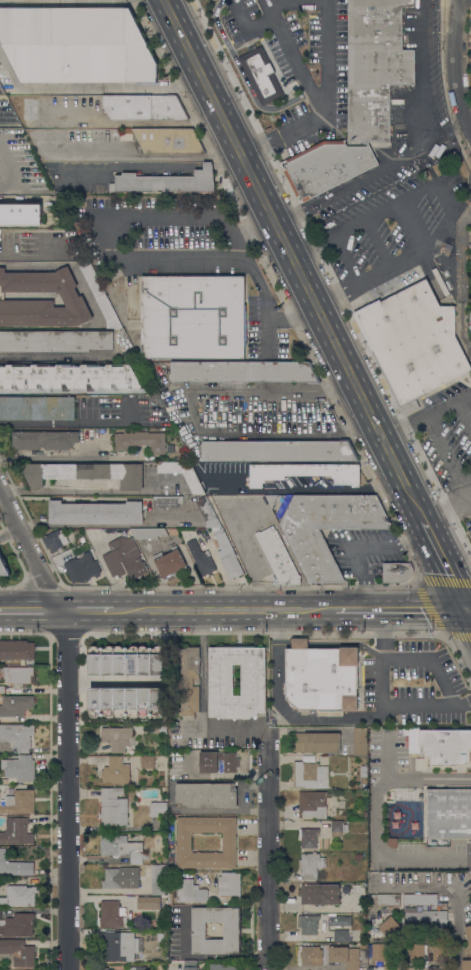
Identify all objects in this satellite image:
road: (249, 27)
building: (76, 45)
road: (327, 55)
building: (375, 66)
road: (454, 68)
building: (261, 75)
road: (320, 97)
building: (143, 107)
building: (31, 112)
road: (136, 122)
building: (126, 135)
building: (168, 141)
road: (413, 151)
road: (6, 166)
building: (325, 166)
building: (165, 182)
road: (5, 191)
road: (6, 198)
building: (20, 214)
road: (251, 222)
road: (421, 222)
road: (231, 233)
road: (99, 239)
building: (470, 240)
road: (295, 258)
road: (177, 259)
building: (470, 261)
road: (67, 263)
road: (463, 281)
building: (69, 295)
building: (101, 296)
building: (193, 317)
building: (470, 320)
building: (55, 340)
building: (413, 341)
road: (47, 354)
building: (243, 371)
building: (68, 376)
building: (37, 407)
road: (190, 417)
road: (70, 422)
road: (404, 427)
road: (432, 436)
building: (44, 439)
building: (143, 441)
building: (278, 451)
road: (42, 456)
building: (305, 472)
building: (84, 473)
building: (194, 484)
road: (468, 489)
road: (91, 490)
road: (314, 490)
building: (167, 501)
road: (447, 507)
building: (95, 512)
building: (208, 512)
road: (89, 525)
building: (323, 526)
building: (148, 533)
building: (89, 534)
building: (55, 540)
road: (241, 544)
road: (357, 545)
road: (30, 550)
building: (227, 555)
building: (278, 556)
building: (124, 558)
building: (201, 558)
building: (88, 562)
building: (170, 562)
road: (445, 563)
building: (3, 566)
building: (396, 571)
road: (111, 577)
road: (400, 609)
traffic signals: (467, 609)
road: (469, 609)
road: (223, 610)
road: (31, 612)
road: (88, 612)
road: (469, 612)
building: (17, 649)
building: (121, 660)
building: (134, 660)
building: (145, 660)
building: (158, 660)
road: (430, 660)
building: (96, 661)
building: (109, 661)
building: (19, 674)
building: (321, 677)
road: (202, 678)
building: (221, 679)
building: (189, 681)
building: (2, 689)
building: (96, 701)
building: (109, 701)
building: (121, 701)
building: (134, 701)
building: (145, 701)
building: (158, 701)
road: (382, 701)
building: (15, 705)
road: (287, 711)
building: (162, 728)
building: (17, 735)
building: (117, 738)
building: (360, 741)
building: (317, 742)
building: (446, 746)
building: (147, 761)
building: (219, 766)
building: (21, 768)
building: (116, 770)
building: (363, 771)
building: (188, 774)
building: (309, 775)
building: (364, 783)
road: (65, 790)
building: (207, 795)
building: (19, 802)
building: (312, 804)
building: (113, 806)
building: (158, 808)
building: (448, 813)
road: (376, 818)
building: (338, 828)
building: (16, 831)
building: (309, 837)
building: (183, 842)
building: (122, 847)
building: (358, 856)
road: (267, 862)
building: (311, 864)
building: (14, 865)
building: (118, 877)
building: (157, 878)
building: (229, 883)
building: (189, 891)
building: (319, 893)
building: (19, 895)
road: (452, 895)
building: (388, 899)
building: (420, 899)
building: (148, 902)
building: (164, 905)
building: (112, 913)
building: (425, 918)
building: (339, 919)
building: (308, 924)
building: (18, 925)
building: (389, 926)
building: (232, 931)
building: (341, 935)
building: (469, 935)
building: (161, 937)
building: (121, 945)
building: (17, 952)
building: (379, 952)
building: (417, 952)
building: (311, 956)
building: (345, 956)
building: (466, 964)
building: (190, 965)
building: (223, 966)
building: (105, 968)
building: (138, 968)

